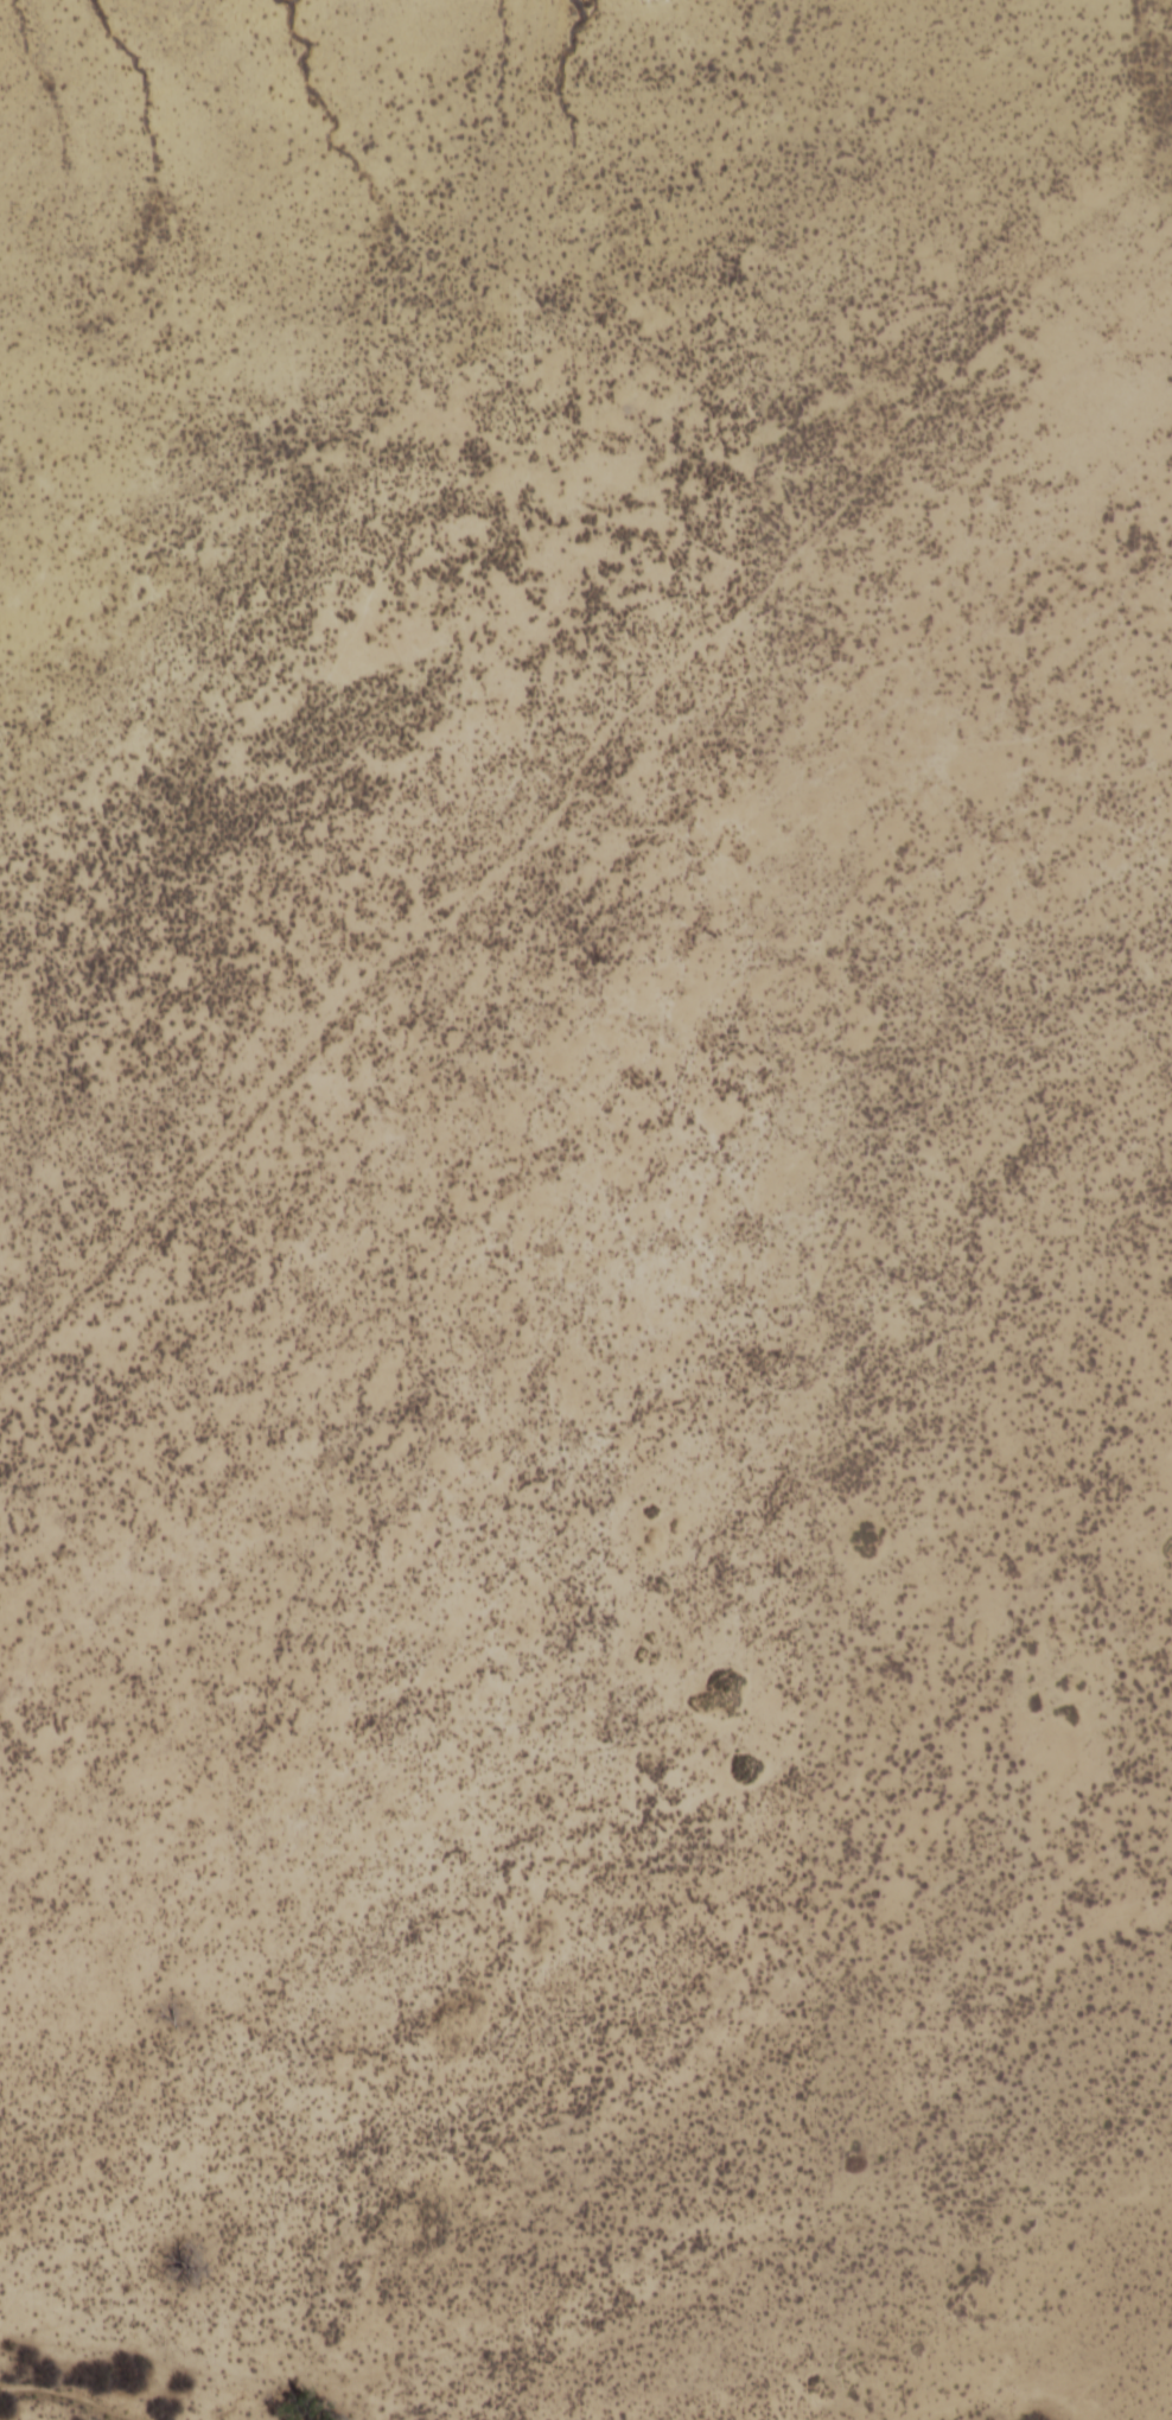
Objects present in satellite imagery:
river: (145, 2396)

